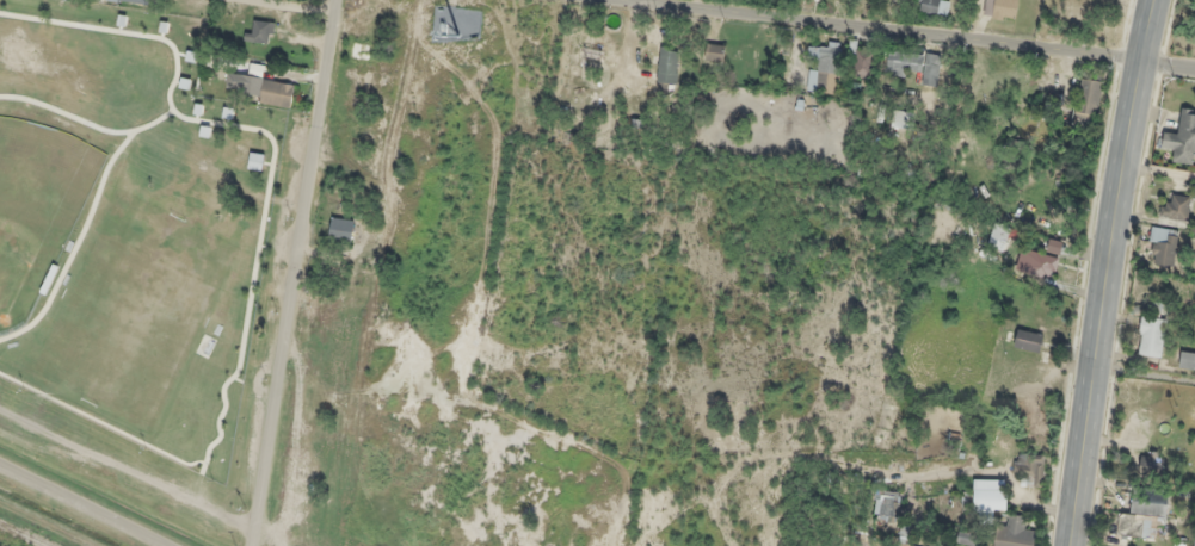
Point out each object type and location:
building: (133, 1)
building: (932, 7)
building: (1000, 8)
building: (260, 31)
road: (867, 35)
road: (252, 38)
building: (361, 51)
building: (714, 51)
building: (863, 62)
building: (667, 64)
building: (912, 64)
building: (825, 68)
building: (263, 86)
building: (1088, 99)
building: (901, 118)
building: (1182, 137)
road: (1159, 184)
building: (1174, 206)
building: (341, 229)
building: (1000, 237)
building: (1163, 246)
building: (1039, 263)
road: (1108, 272)
road: (300, 273)
building: (1151, 336)
building: (1028, 340)
building: (1187, 360)
road: (1144, 372)
building: (1191, 414)
road: (869, 467)
building: (1029, 470)
building: (991, 500)
road: (82, 503)
building: (888, 507)
building: (1144, 514)
railway: (25, 533)
building: (1014, 534)
building: (967, 538)

